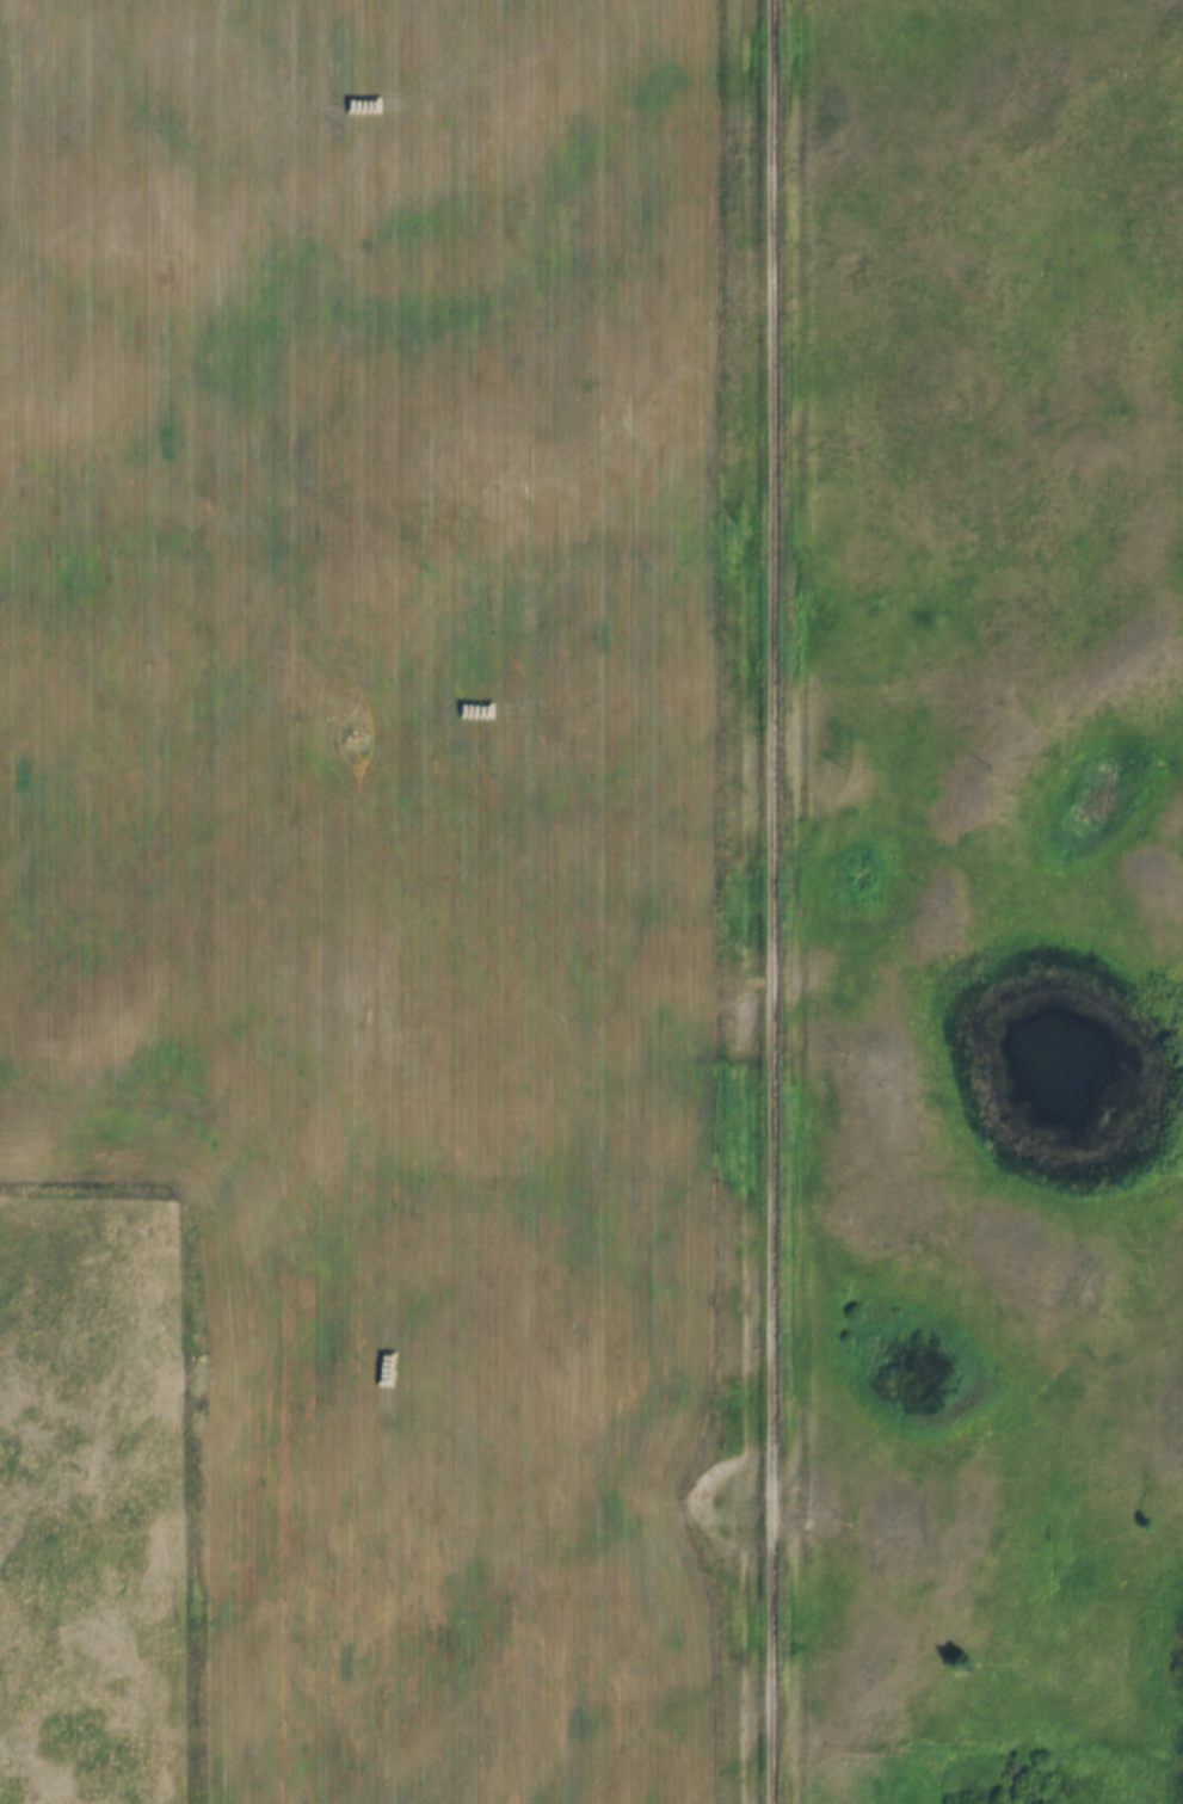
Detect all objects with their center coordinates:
road: (775, 901)

